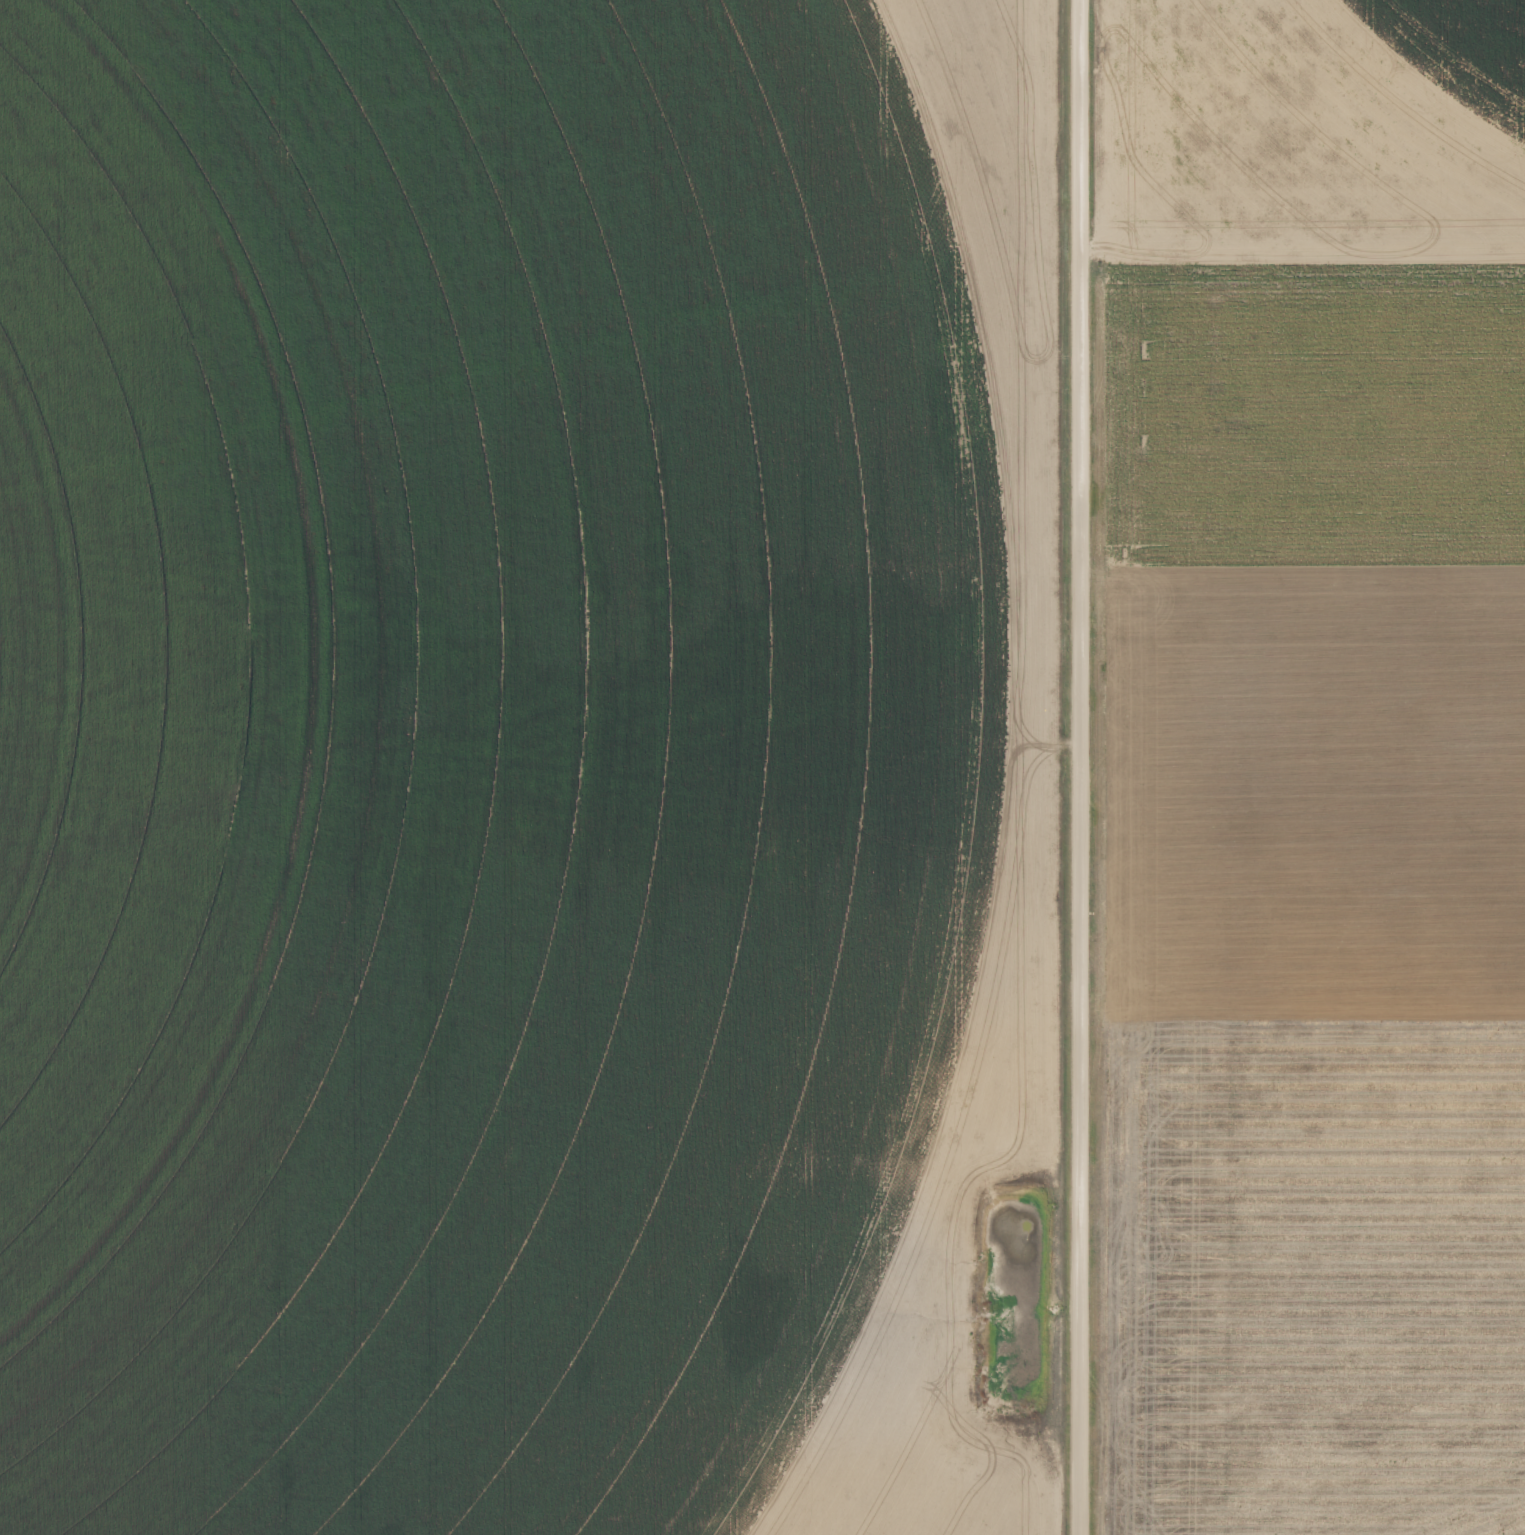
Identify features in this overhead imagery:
road: (1080, 767)

